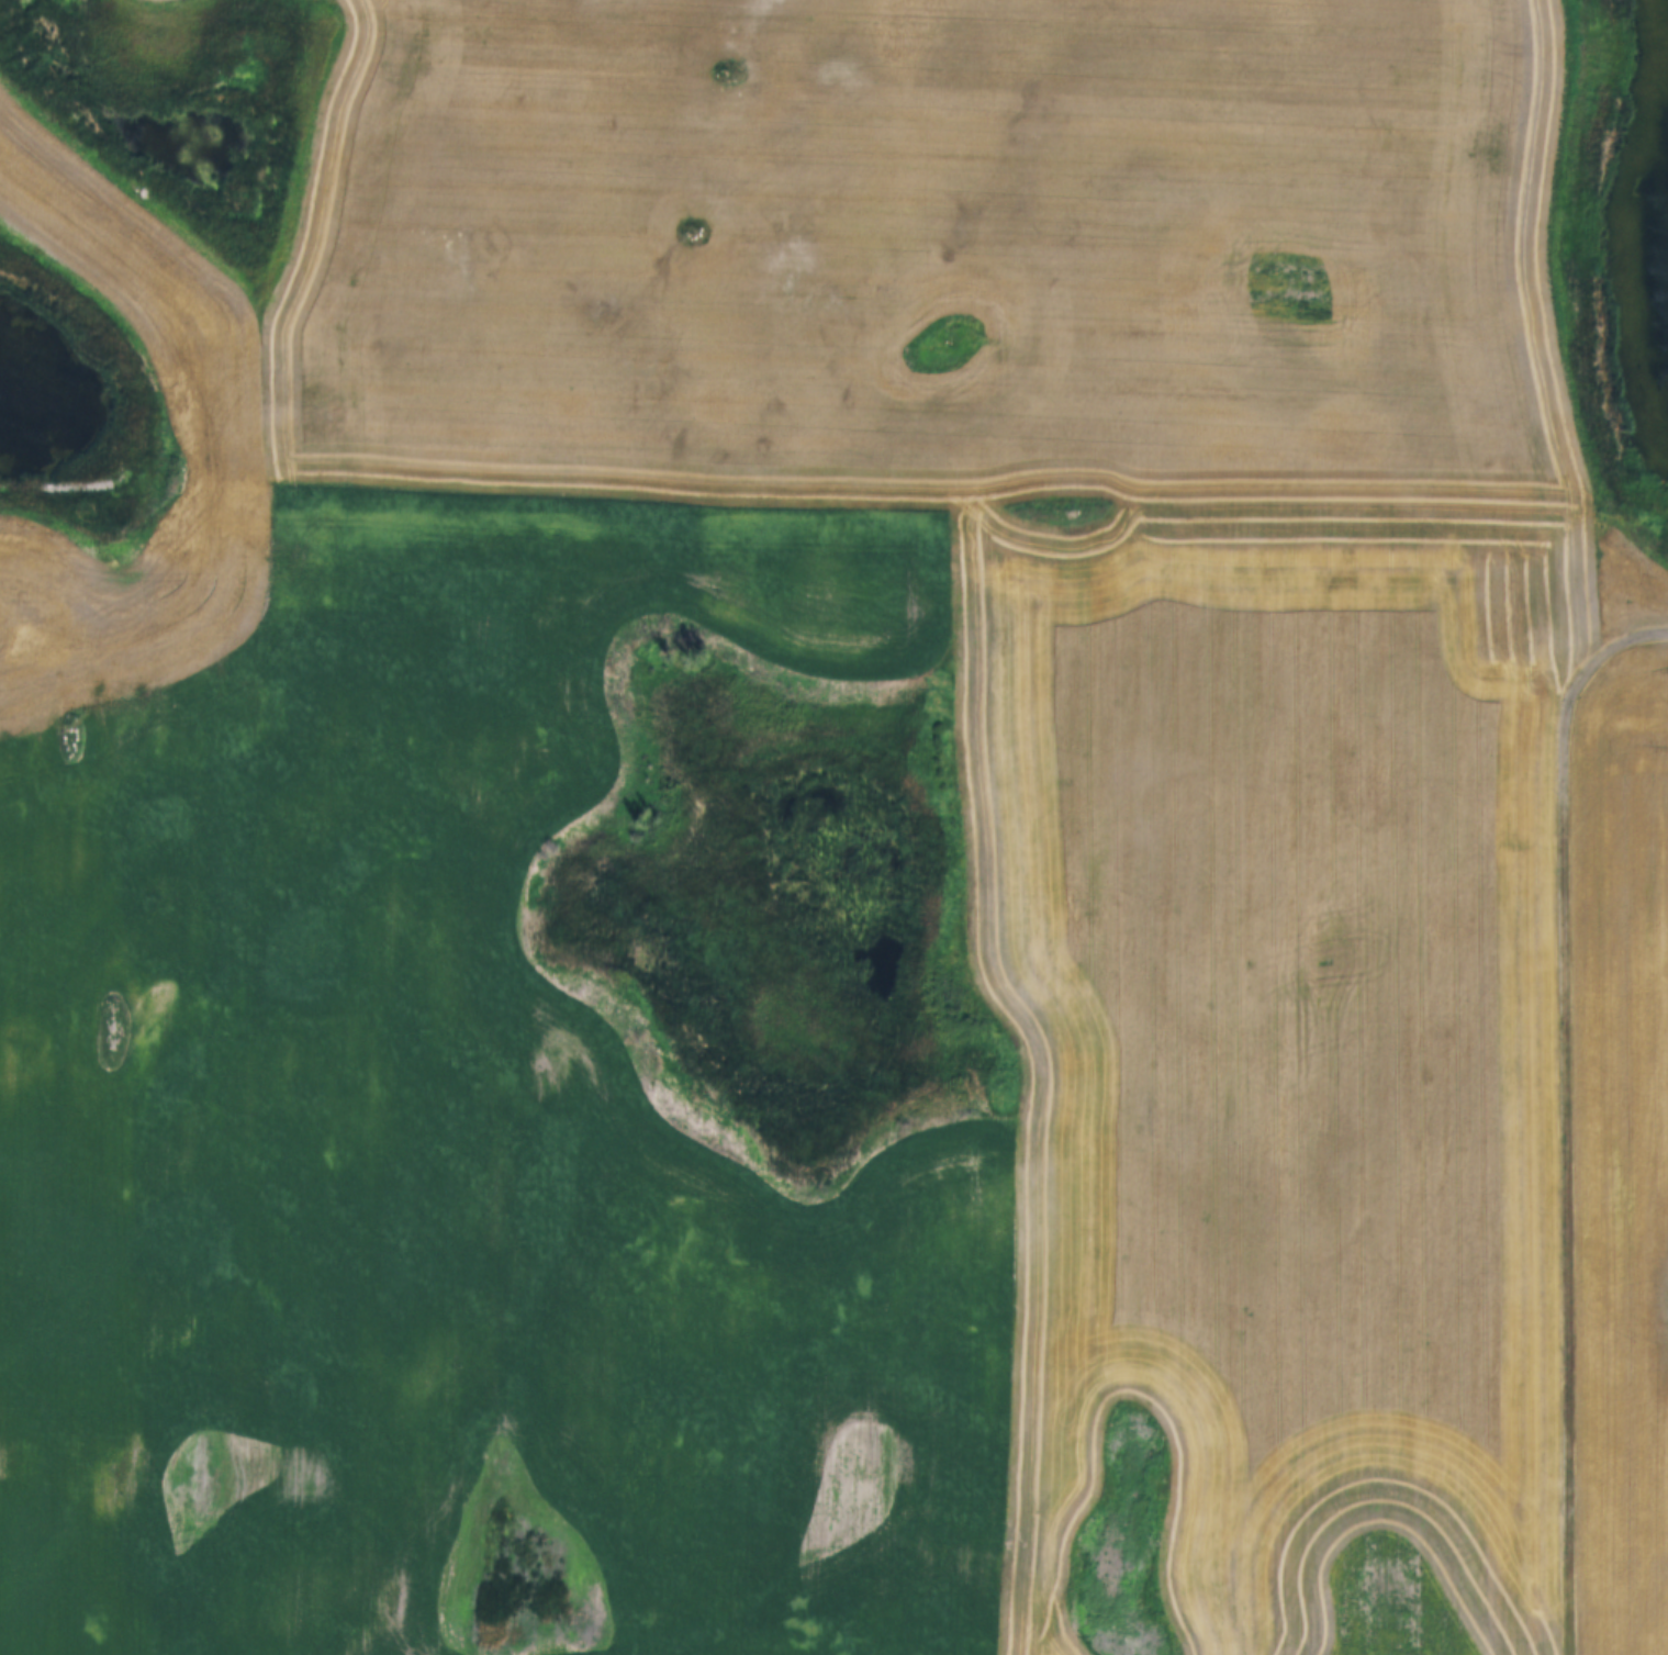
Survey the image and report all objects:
road: (1569, 1069)

